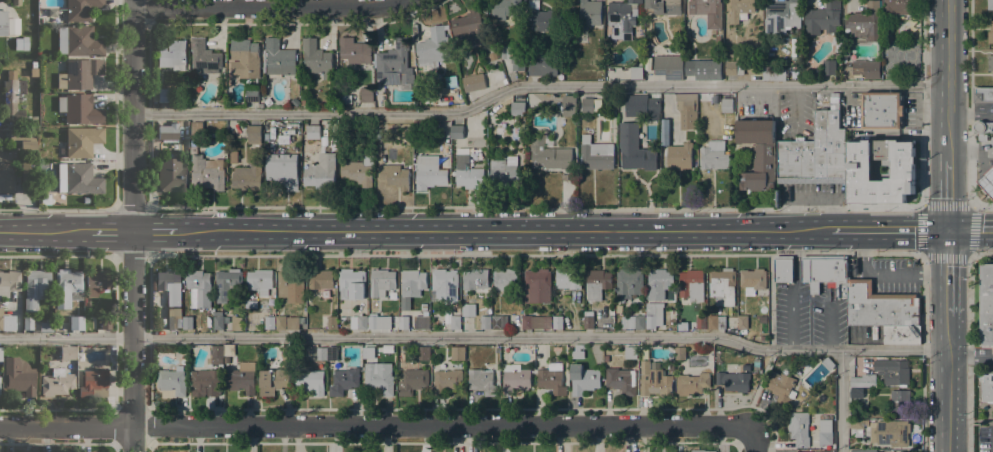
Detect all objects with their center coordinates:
building: (16, 2)
building: (989, 4)
road: (268, 6)
building: (663, 7)
building: (897, 7)
building: (81, 9)
building: (506, 9)
building: (740, 10)
building: (708, 11)
building: (589, 12)
building: (782, 16)
building: (544, 18)
building: (823, 18)
building: (622, 19)
building: (3, 23)
building: (864, 23)
building: (13, 26)
building: (469, 29)
building: (990, 33)
building: (78, 41)
building: (25, 43)
building: (19, 44)
building: (836, 44)
building: (433, 47)
building: (354, 51)
building: (559, 51)
building: (172, 53)
building: (205, 56)
building: (245, 58)
building: (279, 58)
building: (317, 58)
building: (513, 58)
building: (990, 63)
building: (394, 64)
building: (544, 66)
building: (669, 67)
building: (733, 67)
building: (755, 67)
building: (829, 67)
building: (703, 69)
building: (863, 69)
building: (79, 73)
building: (636, 73)
building: (774, 73)
building: (497, 74)
road: (948, 79)
building: (454, 81)
building: (473, 83)
road: (537, 86)
building: (252, 92)
building: (367, 94)
building: (164, 95)
building: (983, 95)
building: (13, 98)
building: (295, 101)
building: (303, 102)
building: (591, 105)
building: (726, 105)
building: (569, 106)
building: (79, 109)
building: (518, 109)
building: (653, 109)
building: (881, 109)
building: (687, 110)
building: (624, 113)
road: (970, 115)
road: (970, 115)
building: (35, 120)
building: (727, 120)
building: (418, 124)
building: (196, 126)
building: (983, 126)
building: (168, 131)
building: (665, 131)
building: (313, 132)
building: (457, 132)
building: (254, 134)
building: (378, 134)
building: (24, 138)
building: (324, 140)
building: (81, 141)
building: (334, 141)
building: (342, 147)
building: (634, 149)
building: (756, 151)
building: (814, 151)
building: (548, 153)
building: (596, 154)
building: (679, 156)
building: (234, 157)
building: (714, 158)
building: (861, 167)
building: (883, 168)
building: (7, 169)
building: (360, 169)
building: (28, 171)
building: (283, 171)
building: (432, 171)
building: (469, 171)
building: (207, 172)
building: (321, 172)
building: (505, 174)
building: (171, 175)
building: (394, 176)
building: (247, 177)
building: (78, 178)
building: (987, 181)
road: (948, 193)
building: (44, 199)
road: (968, 206)
road: (629, 208)
road: (133, 226)
road: (888, 228)
road: (970, 228)
road: (502, 229)
road: (44, 231)
road: (111, 231)
road: (154, 231)
road: (980, 253)
road: (633, 254)
road: (58, 255)
road: (132, 255)
building: (782, 269)
road: (948, 271)
road: (885, 272)
building: (826, 274)
building: (291, 279)
building: (321, 279)
building: (475, 279)
building: (506, 279)
building: (568, 279)
building: (10, 280)
building: (753, 280)
building: (259, 281)
building: (97, 282)
building: (381, 282)
building: (629, 282)
building: (227, 283)
building: (412, 283)
building: (659, 283)
building: (351, 284)
building: (445, 284)
building: (597, 284)
building: (169, 285)
building: (691, 285)
building: (537, 286)
building: (722, 286)
building: (67, 287)
building: (36, 288)
building: (199, 288)
road: (793, 288)
building: (405, 303)
building: (250, 304)
building: (986, 304)
building: (879, 306)
building: (423, 307)
building: (468, 310)
building: (642, 310)
building: (611, 311)
building: (653, 316)
building: (174, 319)
building: (588, 320)
building: (7, 321)
building: (373, 321)
building: (76, 322)
building: (106, 322)
building: (188, 322)
building: (218, 322)
building: (236, 322)
building: (269, 322)
building: (332, 322)
building: (358, 322)
building: (403, 322)
building: (421, 322)
building: (455, 322)
building: (485, 322)
building: (499, 322)
building: (535, 322)
building: (558, 322)
building: (633, 322)
building: (701, 322)
building: (715, 322)
building: (743, 322)
building: (281, 323)
building: (37, 324)
building: (682, 327)
building: (899, 334)
road: (474, 336)
building: (388, 349)
building: (67, 352)
building: (578, 352)
building: (630, 352)
building: (0, 353)
building: (287, 353)
building: (321, 353)
building: (332, 353)
building: (423, 353)
building: (457, 353)
building: (680, 353)
road: (968, 353)
building: (217, 354)
road: (970, 355)
building: (369, 358)
building: (606, 358)
building: (828, 364)
building: (747, 366)
building: (79, 368)
building: (892, 371)
building: (19, 375)
building: (515, 378)
building: (551, 378)
building: (737, 378)
building: (584, 379)
building: (861, 379)
building: (171, 381)
building: (205, 381)
building: (239, 381)
building: (273, 381)
building: (310, 381)
building: (343, 381)
building: (379, 381)
building: (412, 381)
building: (446, 381)
building: (482, 381)
building: (621, 381)
building: (654, 381)
building: (56, 382)
building: (93, 383)
building: (692, 383)
road: (947, 384)
building: (782, 386)
building: (987, 387)
building: (856, 393)
road: (840, 400)
building: (899, 402)
building: (829, 420)
building: (857, 424)
road: (374, 425)
building: (799, 428)
building: (890, 433)
building: (823, 438)
parking lot: (984, 439)
road: (753, 441)
building: (679, 449)
building: (702, 451)
building: (802, 451)
building: (826, 451)
building: (863, 451)

